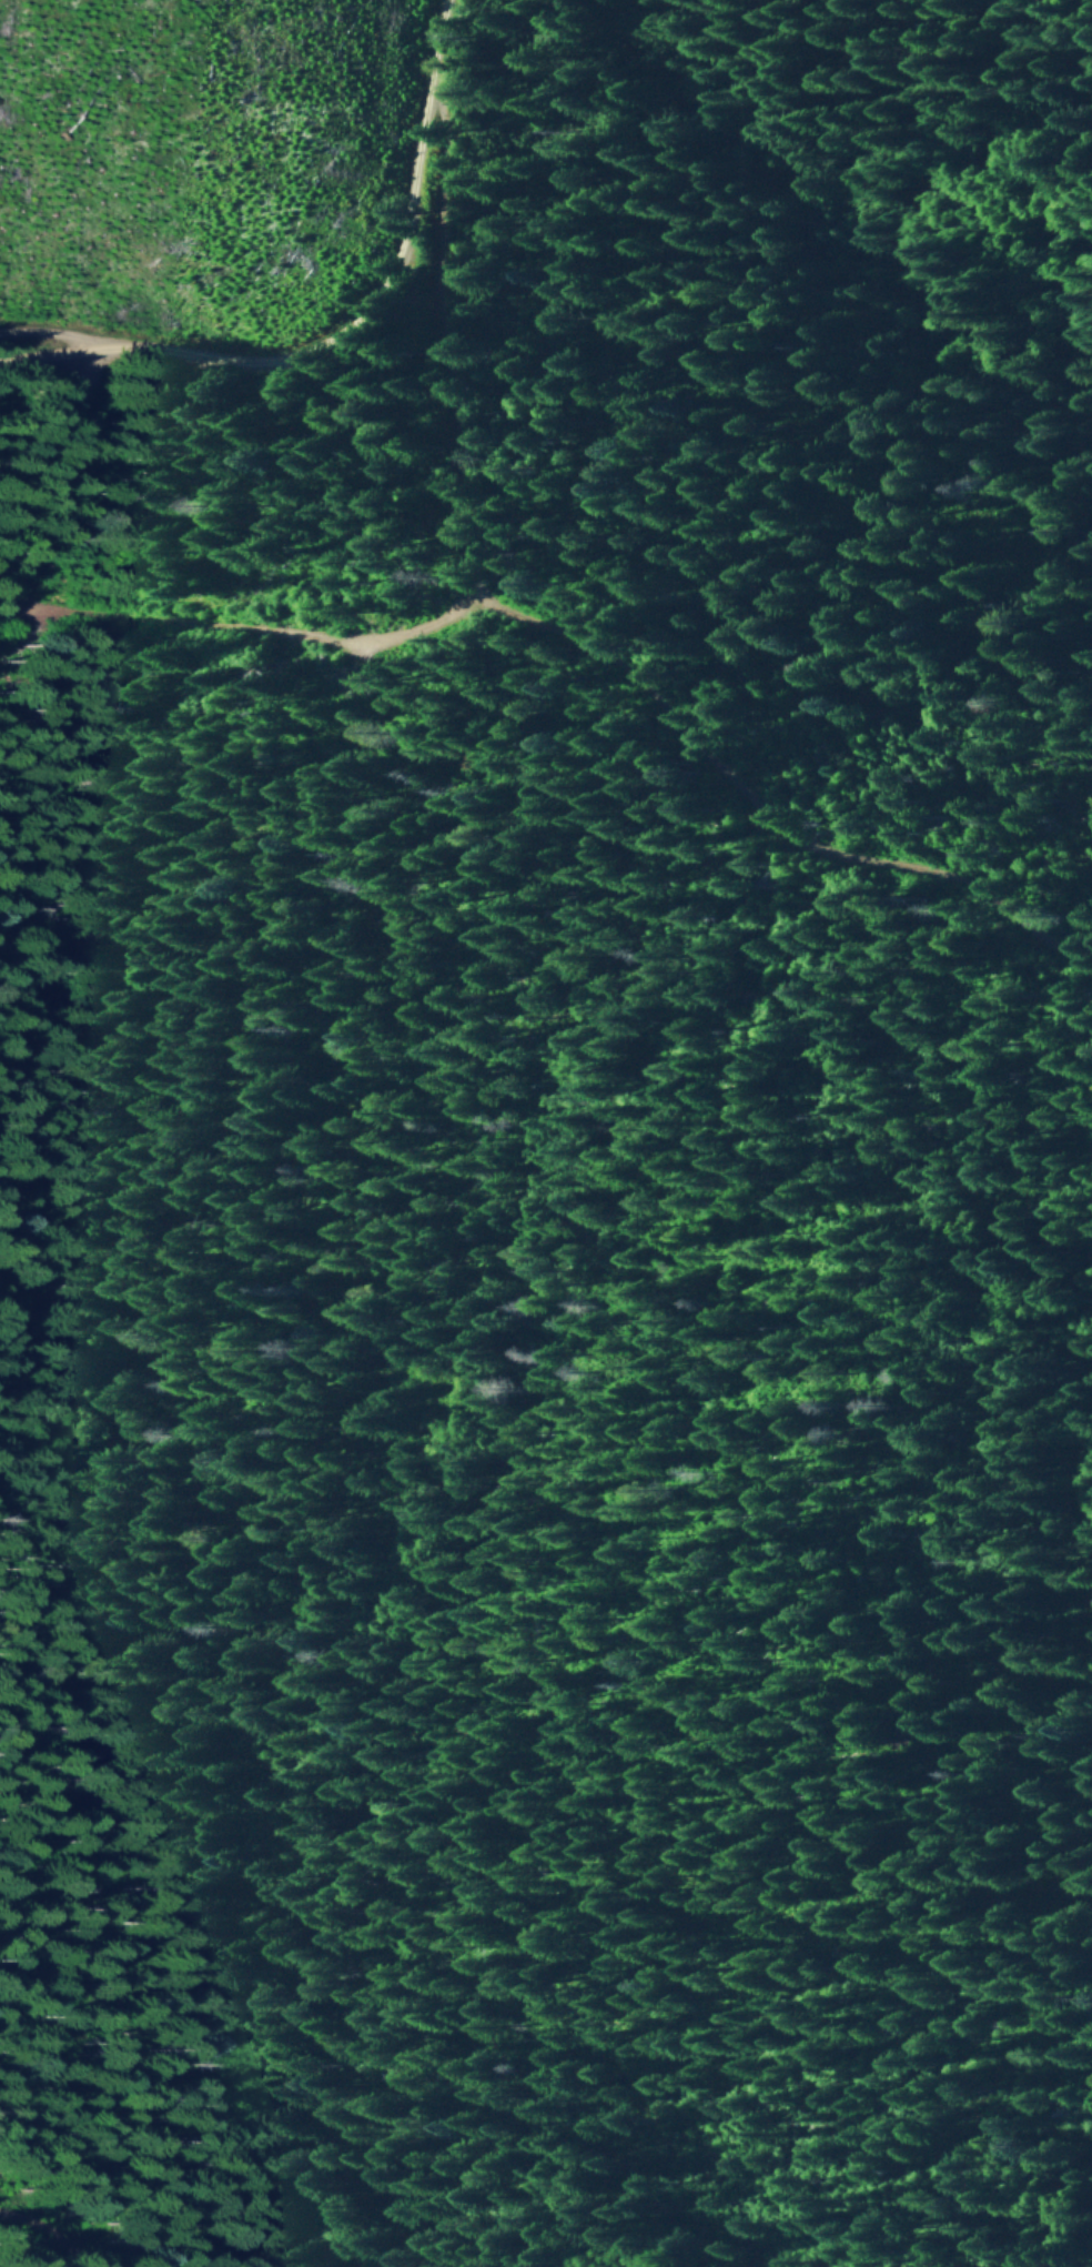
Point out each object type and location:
road: (388, 288)
road: (63, 337)
road: (62, 356)
road: (271, 634)
road: (570, 637)
road: (566, 2119)
road: (52, 2234)

